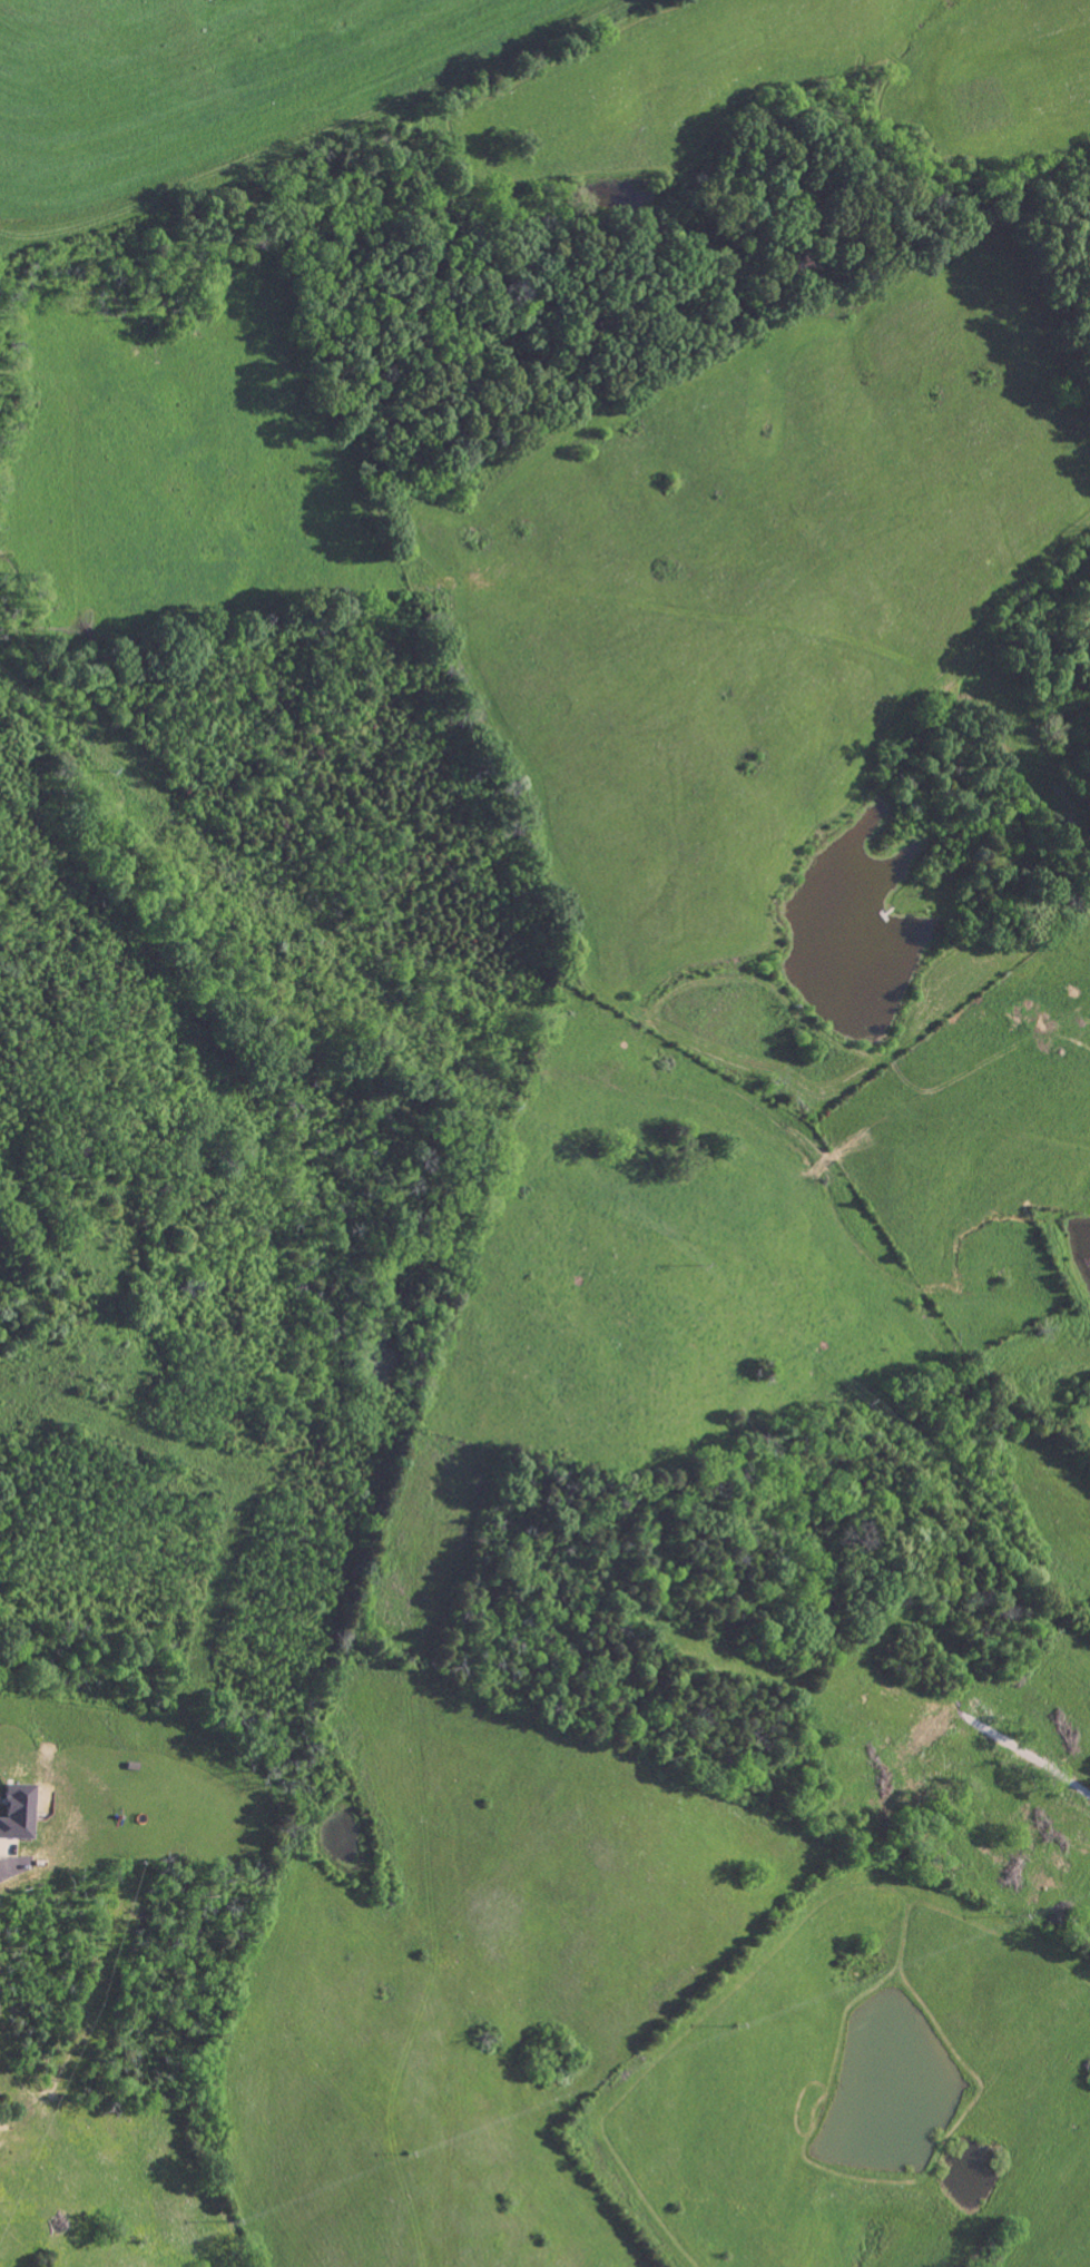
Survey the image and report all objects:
building: (13, 1808)

